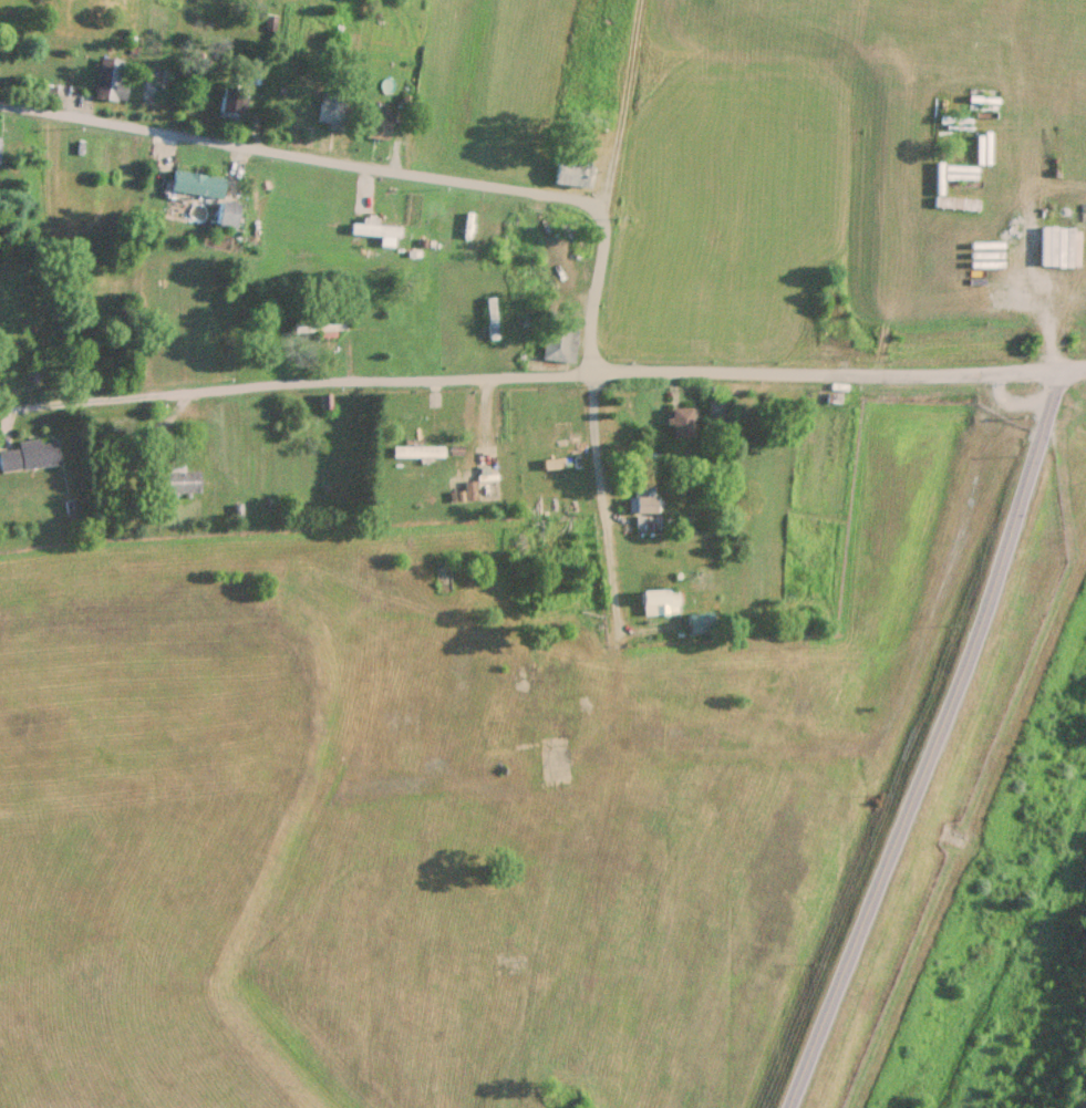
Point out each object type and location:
building: (113, 77)
building: (1, 147)
road: (302, 155)
road: (596, 287)
road: (836, 374)
building: (13, 375)
road: (302, 382)
building: (31, 454)
building: (184, 479)
road: (600, 489)
road: (952, 746)

